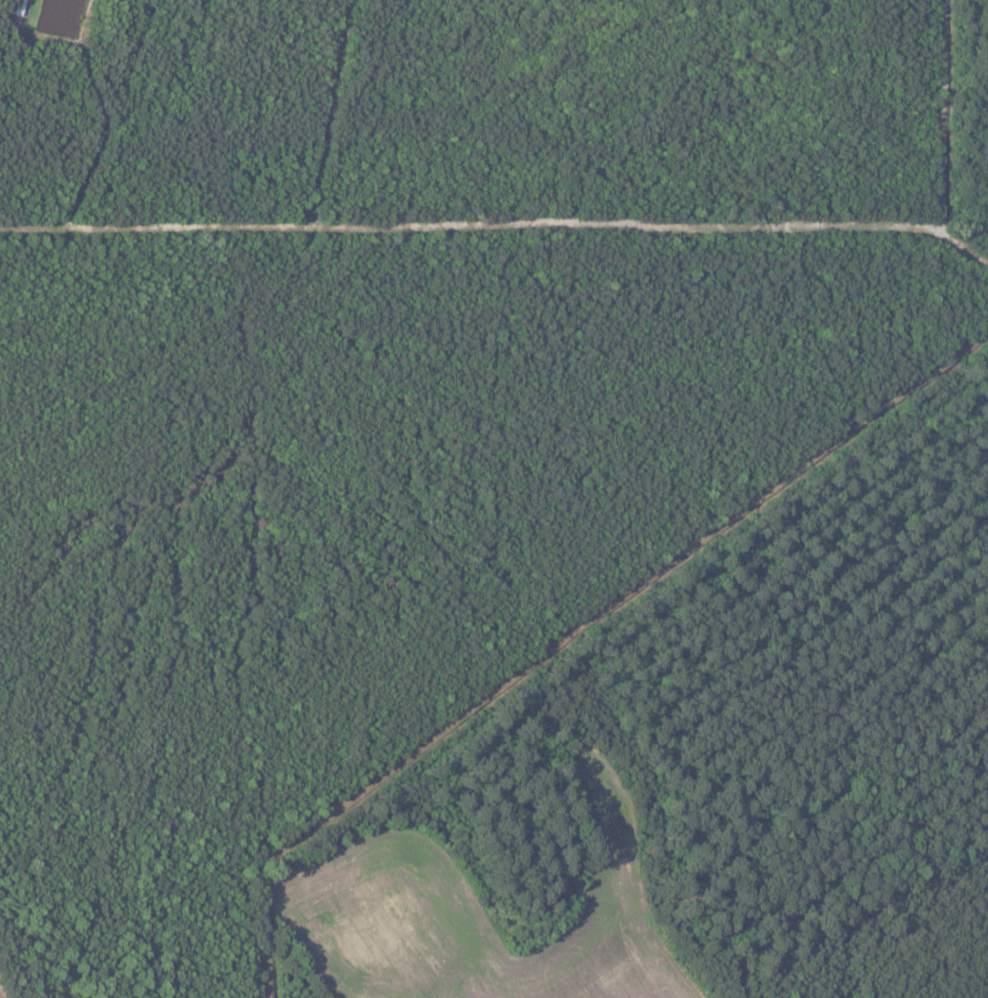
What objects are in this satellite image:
building: (17, 6)

